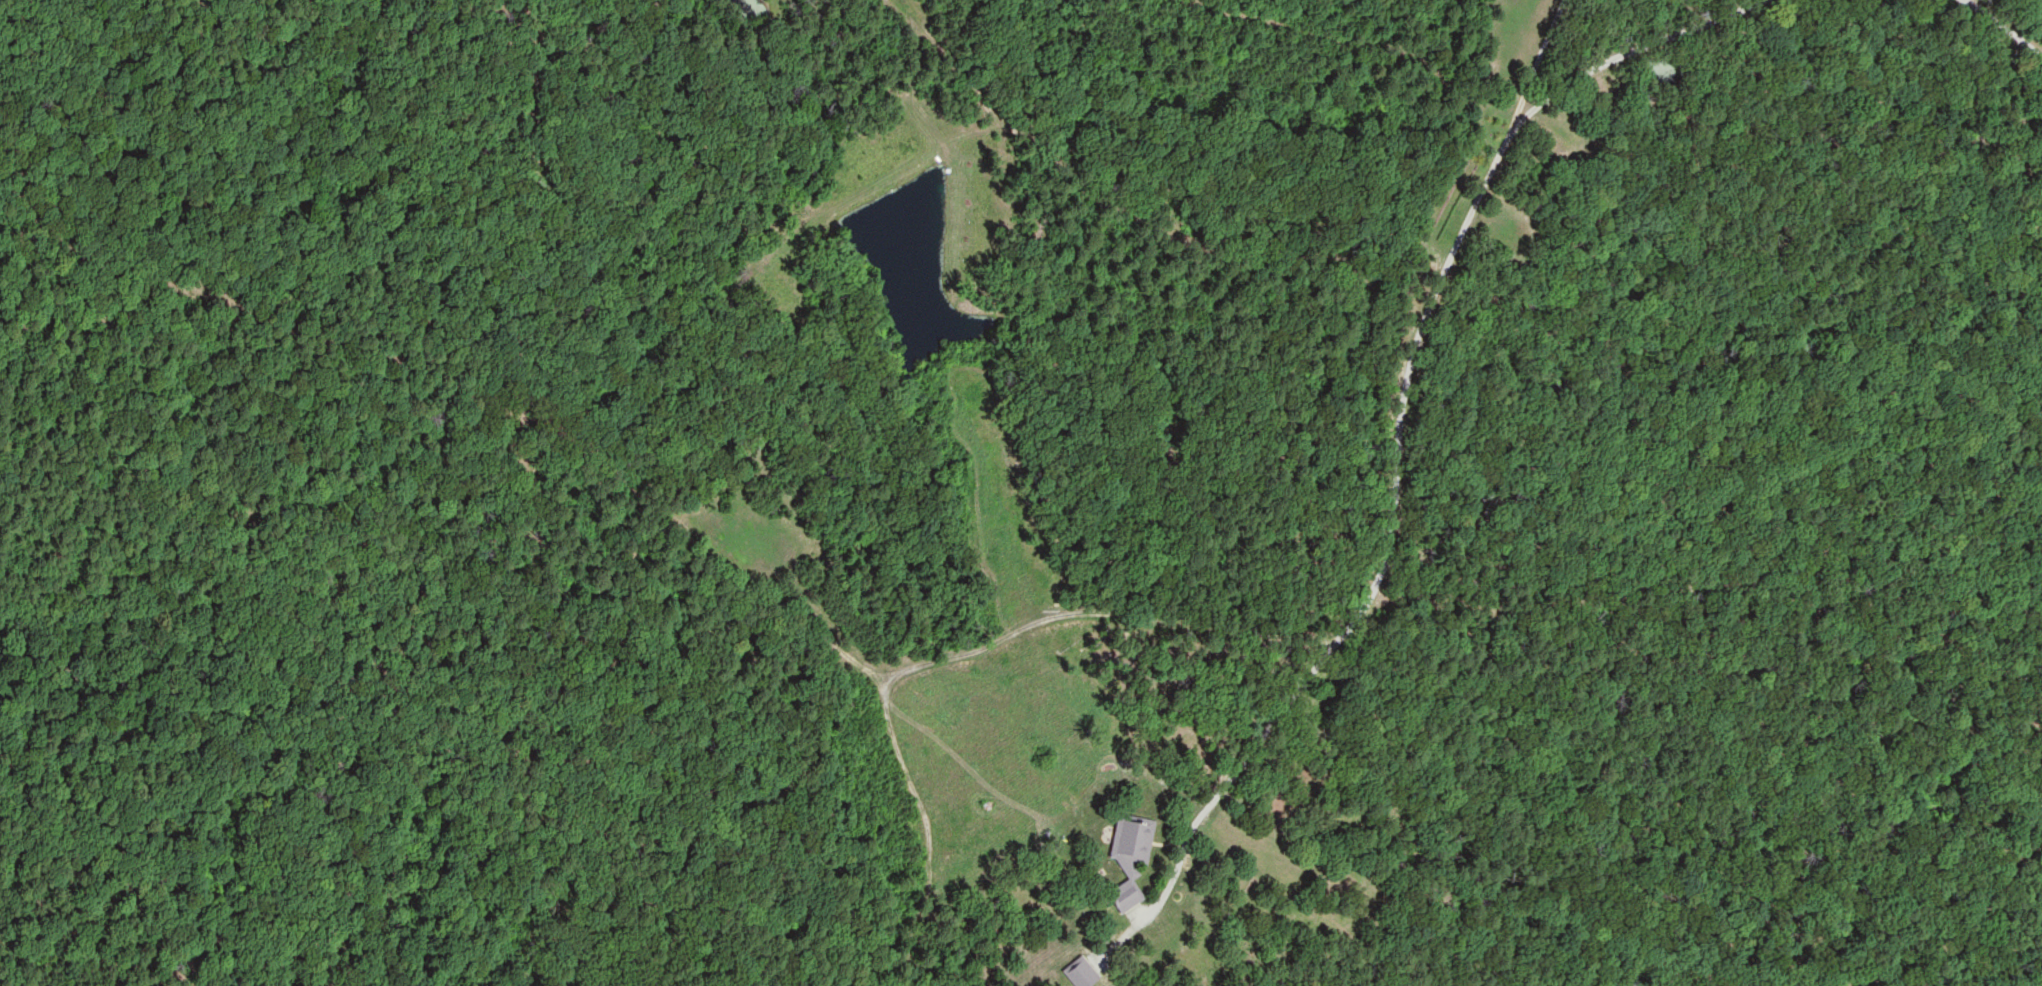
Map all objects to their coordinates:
building: (1126, 859)
building: (1078, 972)

